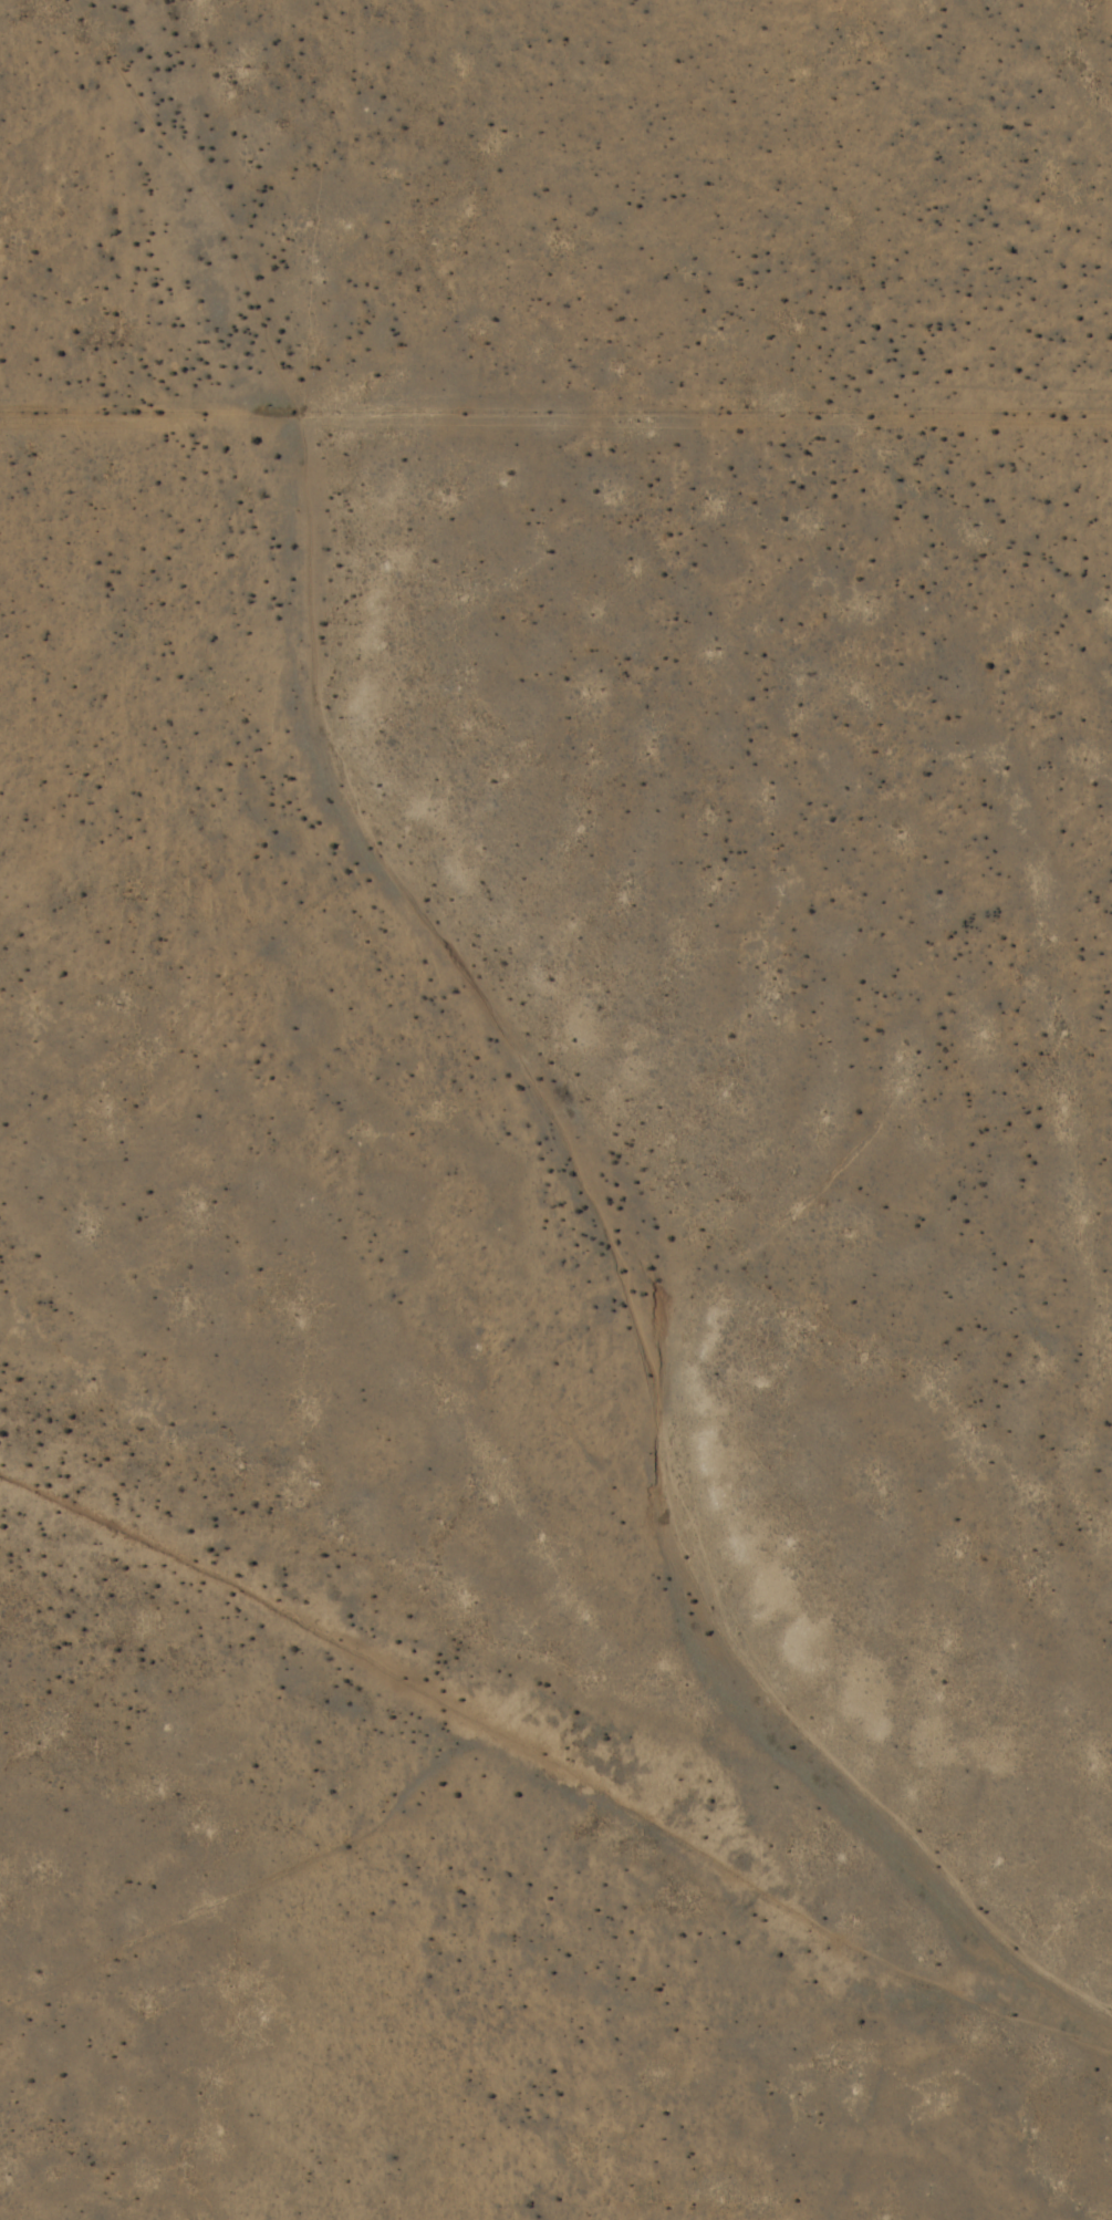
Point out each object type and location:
road: (17, 31)
road: (555, 409)

